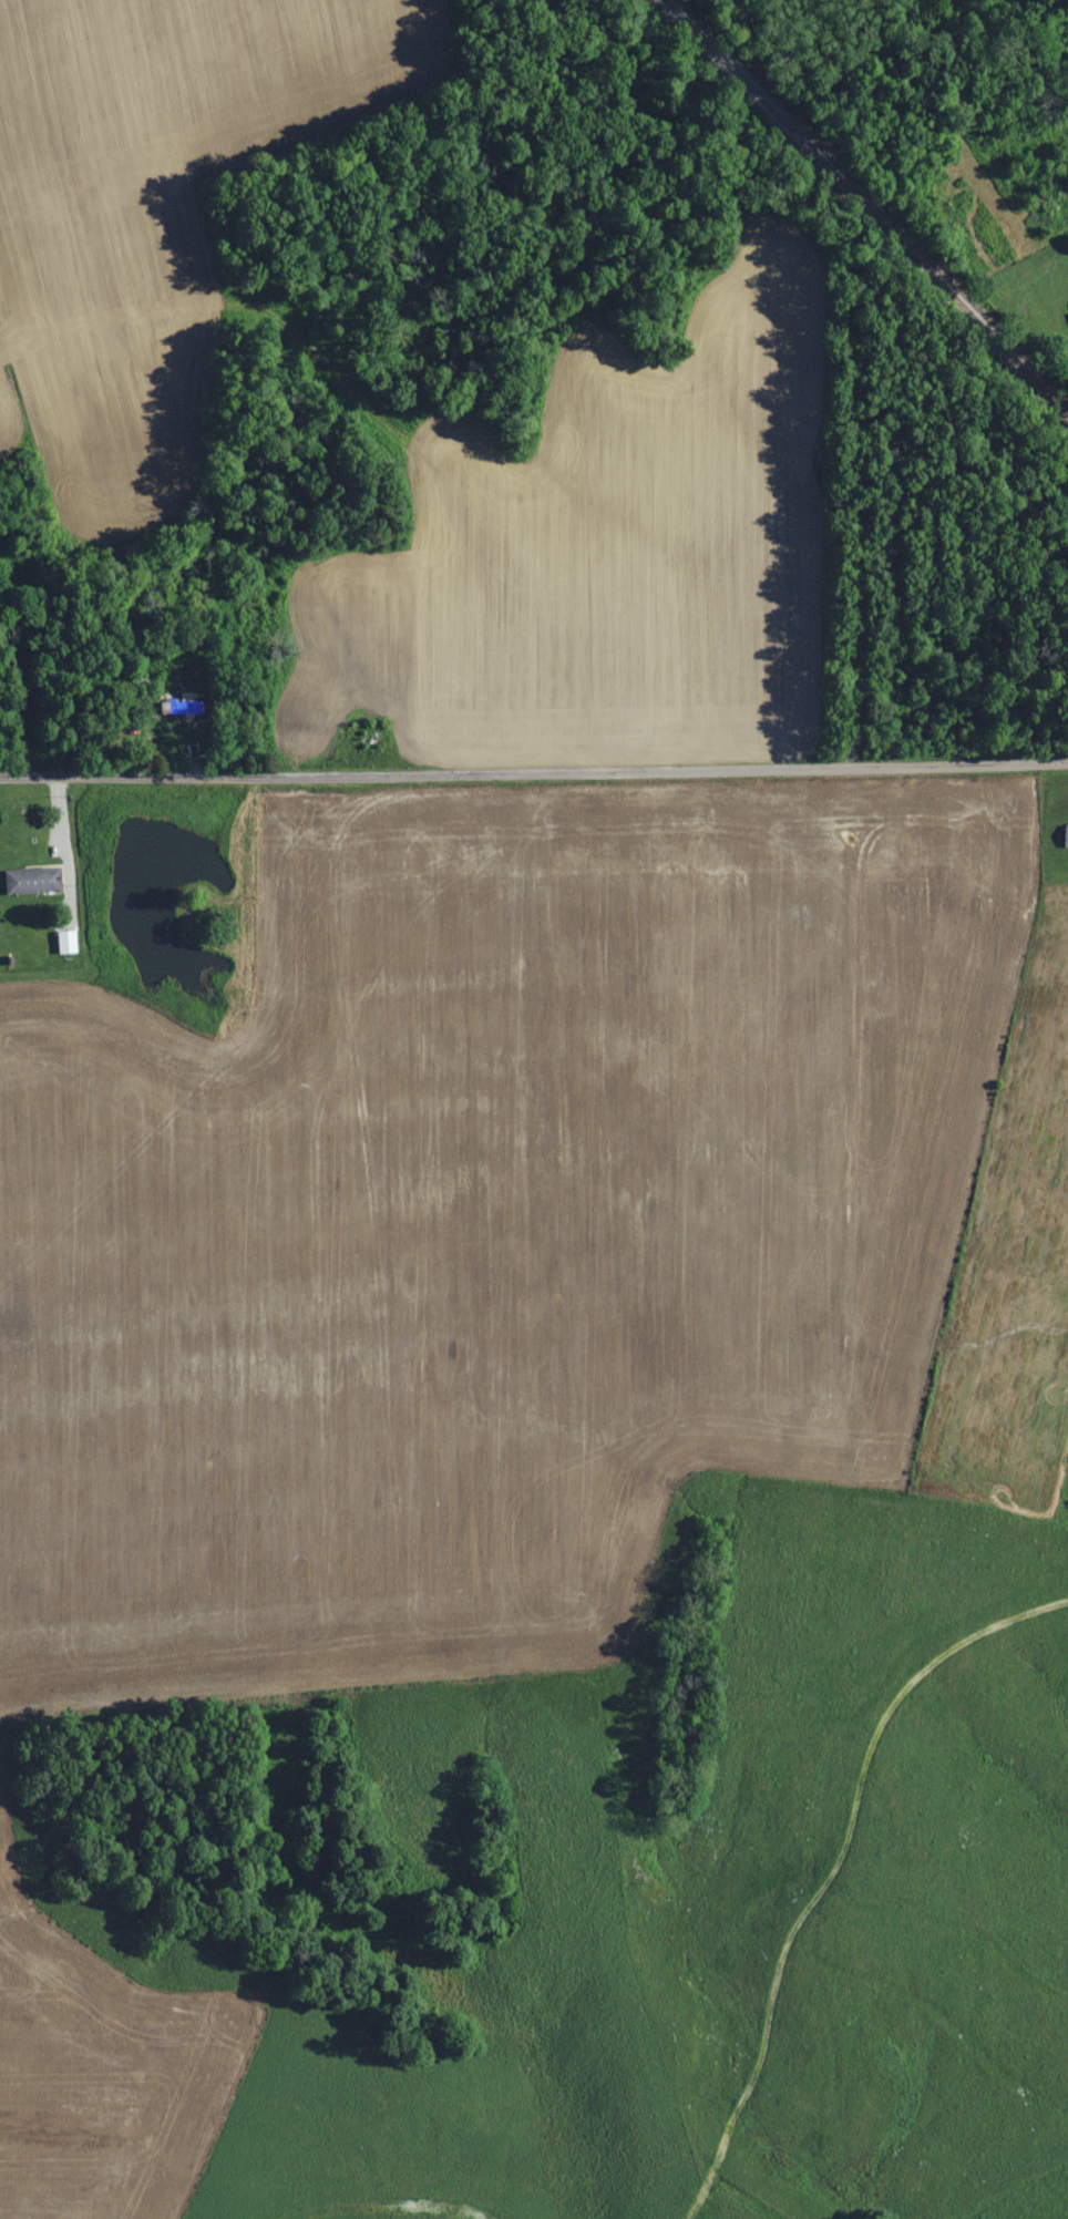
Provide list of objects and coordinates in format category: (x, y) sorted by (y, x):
railway: (869, 208)
road: (534, 770)
building: (1066, 836)
road: (65, 842)
building: (34, 880)
building: (68, 942)

